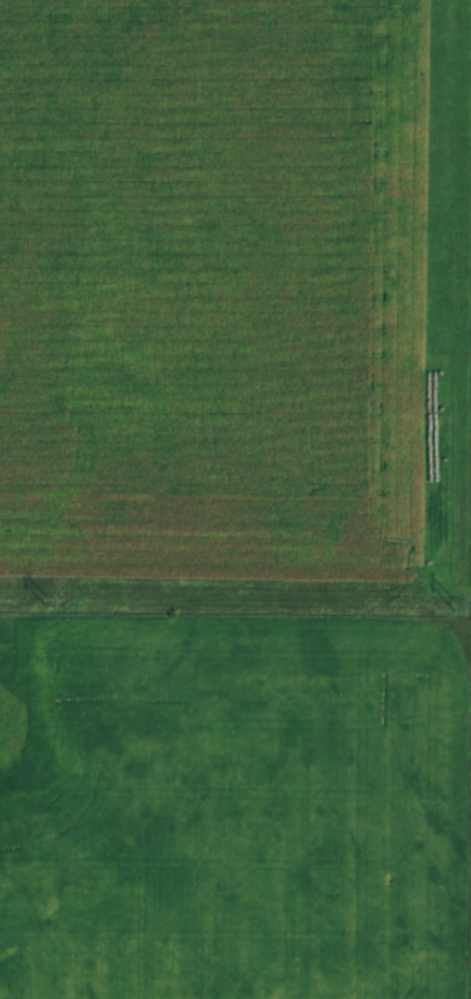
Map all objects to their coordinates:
power tower: (44, 600)
power tower: (450, 604)

